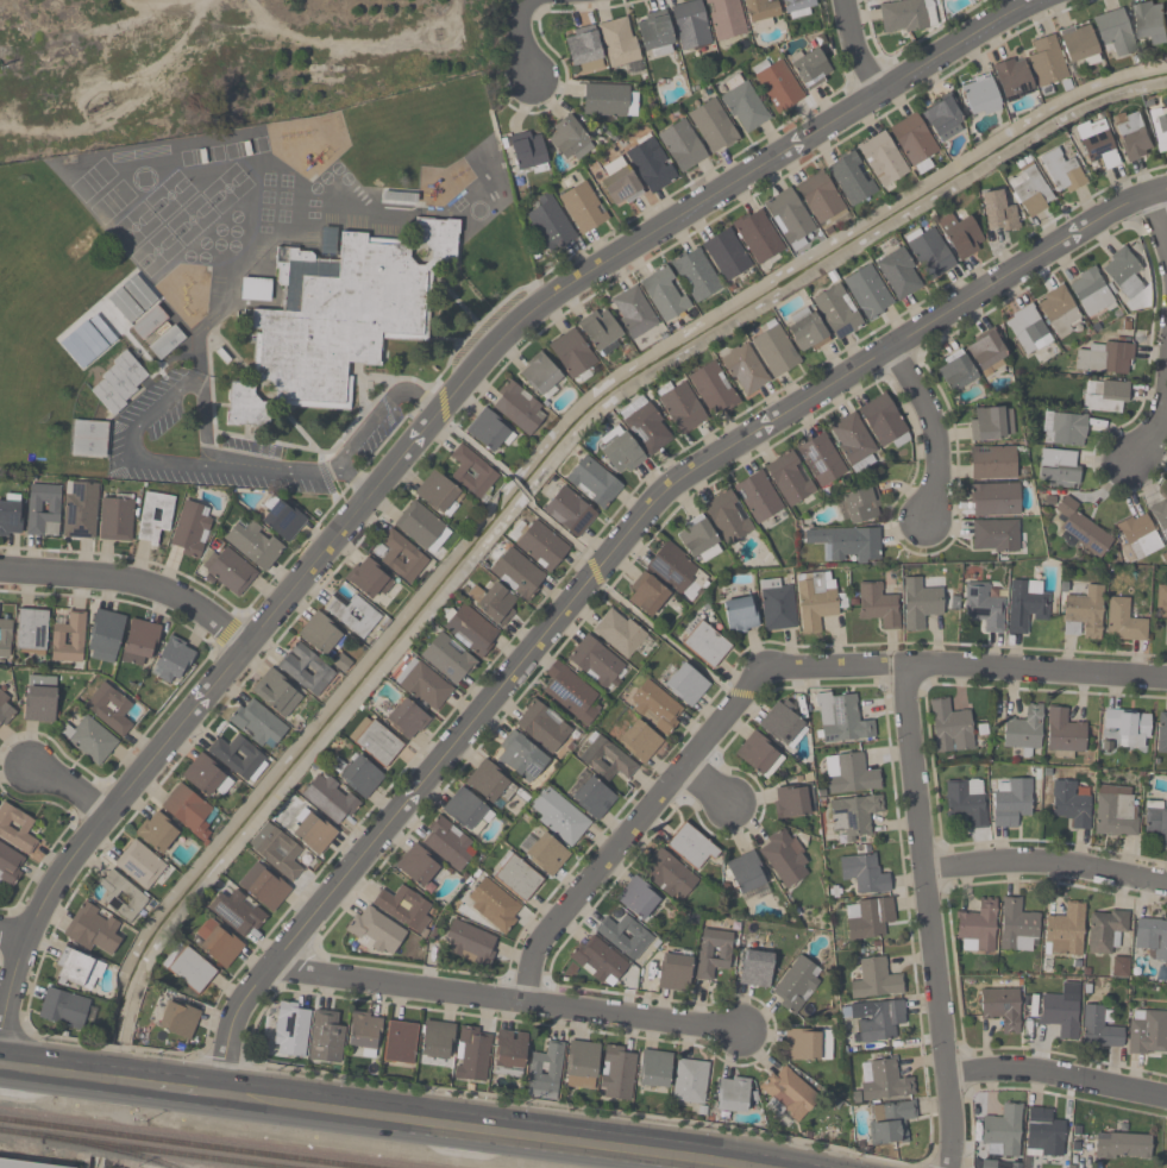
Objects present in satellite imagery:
building: (881, 0)
building: (948, 0)
road: (522, 8)
building: (798, 8)
building: (761, 11)
building: (905, 17)
building: (727, 19)
building: (1150, 23)
building: (691, 25)
building: (1113, 32)
building: (655, 33)
building: (619, 43)
building: (1078, 43)
building: (583, 49)
road: (854, 49)
road: (525, 50)
building: (1047, 62)
building: (811, 69)
building: (1012, 79)
building: (777, 84)
building: (980, 96)
building: (609, 101)
building: (742, 102)
petroleum well: (99, 107)
building: (941, 118)
building: (713, 126)
building: (1161, 127)
building: (1134, 136)
building: (569, 140)
building: (914, 142)
building: (682, 145)
building: (1097, 145)
building: (527, 151)
building: (881, 158)
building: (651, 164)
building: (1062, 170)
building: (851, 178)
building: (620, 183)
building: (1030, 190)
road: (1157, 191)
building: (820, 197)
building: (583, 208)
building: (997, 213)
building: (789, 216)
road: (1157, 222)
building: (551, 224)
building: (960, 236)
building: (757, 237)
building: (929, 252)
building: (710, 266)
building: (1123, 272)
building: (898, 274)
building: (867, 293)
building: (1092, 293)
building: (648, 303)
building: (836, 312)
building: (1059, 312)
building: (341, 321)
building: (149, 324)
building: (1027, 328)
building: (601, 331)
building: (805, 332)
building: (165, 343)
building: (773, 350)
building: (986, 351)
building: (572, 354)
building: (1105, 358)
building: (744, 370)
building: (955, 371)
building: (540, 375)
building: (119, 383)
building: (713, 389)
building: (1105, 396)
road: (159, 407)
building: (680, 407)
building: (517, 408)
road: (1156, 421)
building: (884, 422)
building: (992, 423)
building: (645, 425)
road: (369, 427)
road: (934, 429)
building: (1064, 429)
road: (427, 431)
building: (488, 432)
building: (89, 440)
building: (853, 441)
building: (620, 452)
building: (821, 460)
building: (996, 463)
building: (1059, 469)
road: (271, 470)
building: (472, 472)
building: (790, 478)
building: (592, 483)
building: (439, 494)
building: (758, 497)
building: (995, 501)
building: (860, 505)
building: (43, 509)
building: (80, 510)
building: (569, 513)
building: (727, 516)
building: (1160, 517)
building: (10, 519)
building: (153, 519)
building: (115, 520)
building: (283, 520)
building: (422, 527)
building: (190, 529)
building: (1081, 529)
building: (1140, 535)
building: (996, 536)
building: (697, 538)
building: (253, 544)
building: (849, 545)
building: (541, 546)
building: (402, 558)
road: (606, 564)
building: (672, 567)
building: (231, 572)
building: (517, 574)
road: (131, 577)
building: (369, 579)
building: (646, 595)
building: (816, 601)
building: (921, 603)
building: (497, 604)
building: (1161, 604)
building: (778, 605)
building: (879, 605)
building: (1027, 605)
building: (984, 607)
building: (1084, 614)
building: (355, 615)
building: (740, 615)
building: (1124, 622)
building: (31, 632)
building: (471, 632)
building: (619, 633)
building: (320, 634)
building: (105, 636)
building: (5, 638)
building: (68, 638)
building: (140, 643)
building: (705, 645)
building: (447, 659)
building: (172, 661)
building: (340, 663)
building: (597, 664)
road: (967, 665)
building: (306, 668)
building: (684, 683)
building: (423, 685)
building: (276, 692)
building: (571, 692)
building: (40, 699)
building: (654, 707)
building: (111, 709)
building: (5, 710)
building: (842, 718)
building: (407, 720)
building: (782, 722)
building: (258, 724)
building: (542, 727)
building: (950, 727)
building: (1128, 728)
building: (1024, 729)
building: (1065, 731)
building: (1161, 733)
building: (89, 740)
building: (639, 741)
building: (375, 742)
building: (237, 755)
building: (759, 755)
building: (520, 756)
building: (606, 759)
building: (853, 774)
building: (206, 775)
building: (362, 778)
building: (491, 784)
road: (708, 784)
road: (63, 785)
building: (594, 798)
building: (330, 799)
building: (793, 802)
building: (967, 802)
building: (1010, 802)
building: (1071, 805)
building: (189, 810)
building: (468, 811)
building: (1116, 811)
building: (559, 816)
building: (854, 816)
building: (1156, 822)
road: (633, 828)
building: (17, 829)
building: (158, 831)
building: (313, 834)
building: (448, 843)
building: (276, 850)
building: (545, 853)
building: (784, 858)
road: (1046, 861)
building: (10, 865)
building: (139, 865)
building: (420, 867)
building: (864, 874)
building: (746, 875)
building: (517, 877)
building: (669, 877)
building: (264, 886)
building: (120, 894)
road: (1125, 896)
building: (638, 900)
building: (494, 904)
building: (404, 908)
building: (237, 912)
road: (928, 915)
building: (867, 918)
building: (1018, 927)
building: (978, 928)
building: (94, 929)
building: (376, 931)
building: (1065, 931)
building: (1105, 931)
road: (14, 932)
building: (625, 937)
building: (1152, 937)
building: (471, 943)
building: (218, 944)
building: (713, 954)
building: (598, 962)
building: (1121, 967)
building: (755, 968)
building: (77, 969)
building: (192, 971)
building: (675, 973)
building: (876, 980)
building: (797, 984)
road: (504, 997)
building: (65, 1009)
building: (1002, 1009)
building: (1061, 1011)
building: (177, 1019)
building: (881, 1022)
building: (290, 1030)
building: (1099, 1030)
building: (364, 1031)
building: (1147, 1032)
building: (326, 1038)
building: (437, 1040)
building: (400, 1042)
building: (808, 1045)
building: (509, 1053)
building: (472, 1054)
building: (582, 1065)
building: (654, 1069)
road: (75, 1072)
building: (545, 1072)
building: (617, 1073)
road: (1058, 1075)
building: (883, 1080)
building: (690, 1081)
road: (183, 1086)
building: (790, 1093)
building: (730, 1095)
building: (890, 1123)
road: (468, 1129)
building: (1002, 1132)
building: (1043, 1134)
railway: (182, 1143)
building: (1122, 1148)
railway: (115, 1149)
railway: (139, 1149)
building: (25, 1164)
road: (916, 1167)

